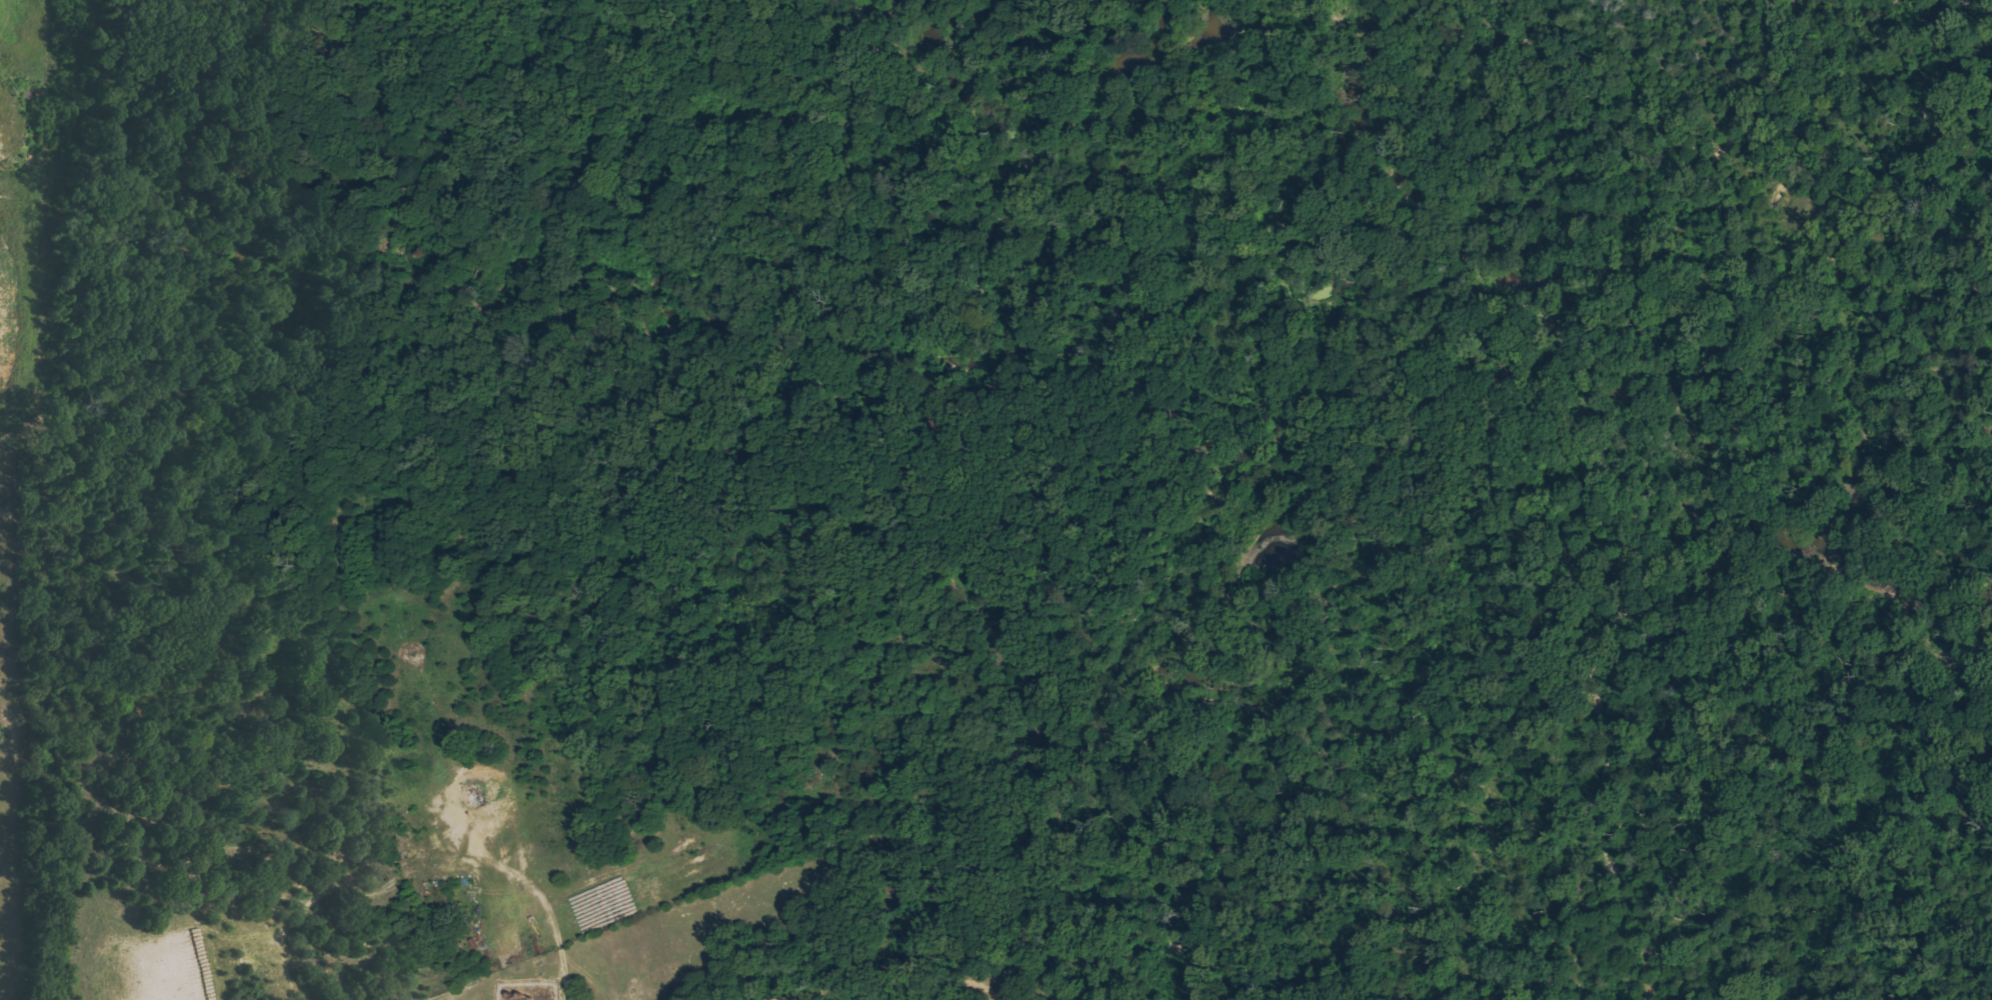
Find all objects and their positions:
road: (1083, 740)

